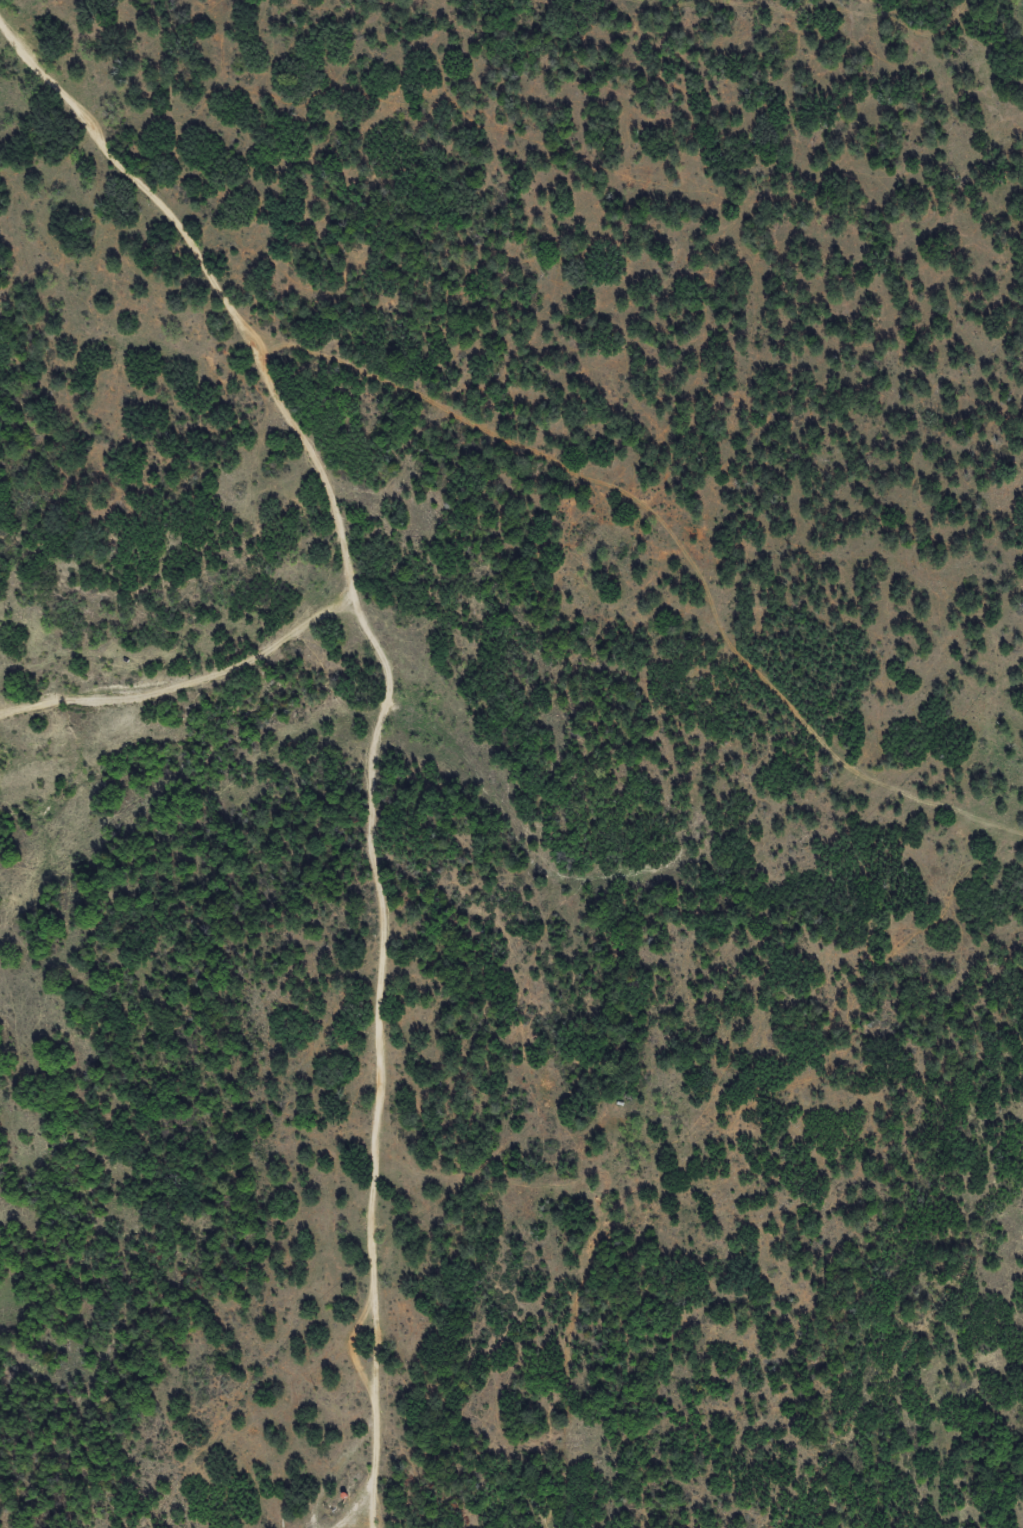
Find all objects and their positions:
road: (406, 719)

